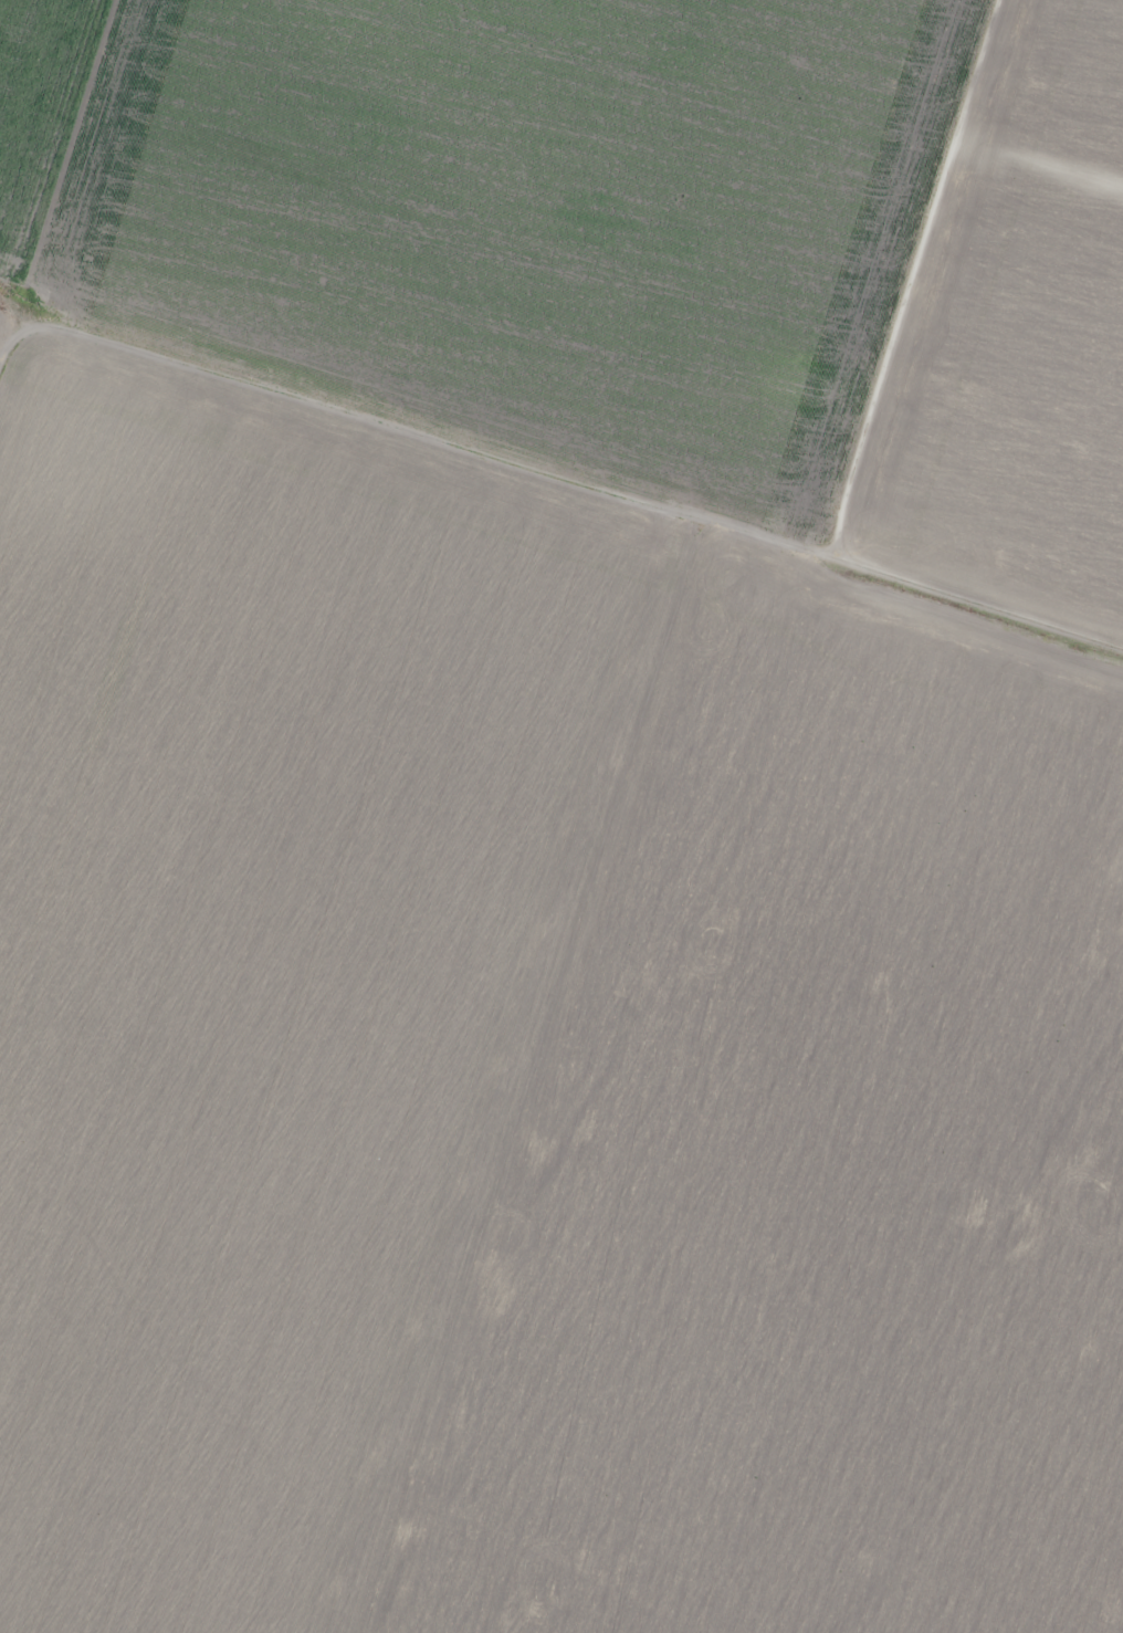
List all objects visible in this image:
road: (78, 155)
road: (15, 357)
road: (561, 473)

